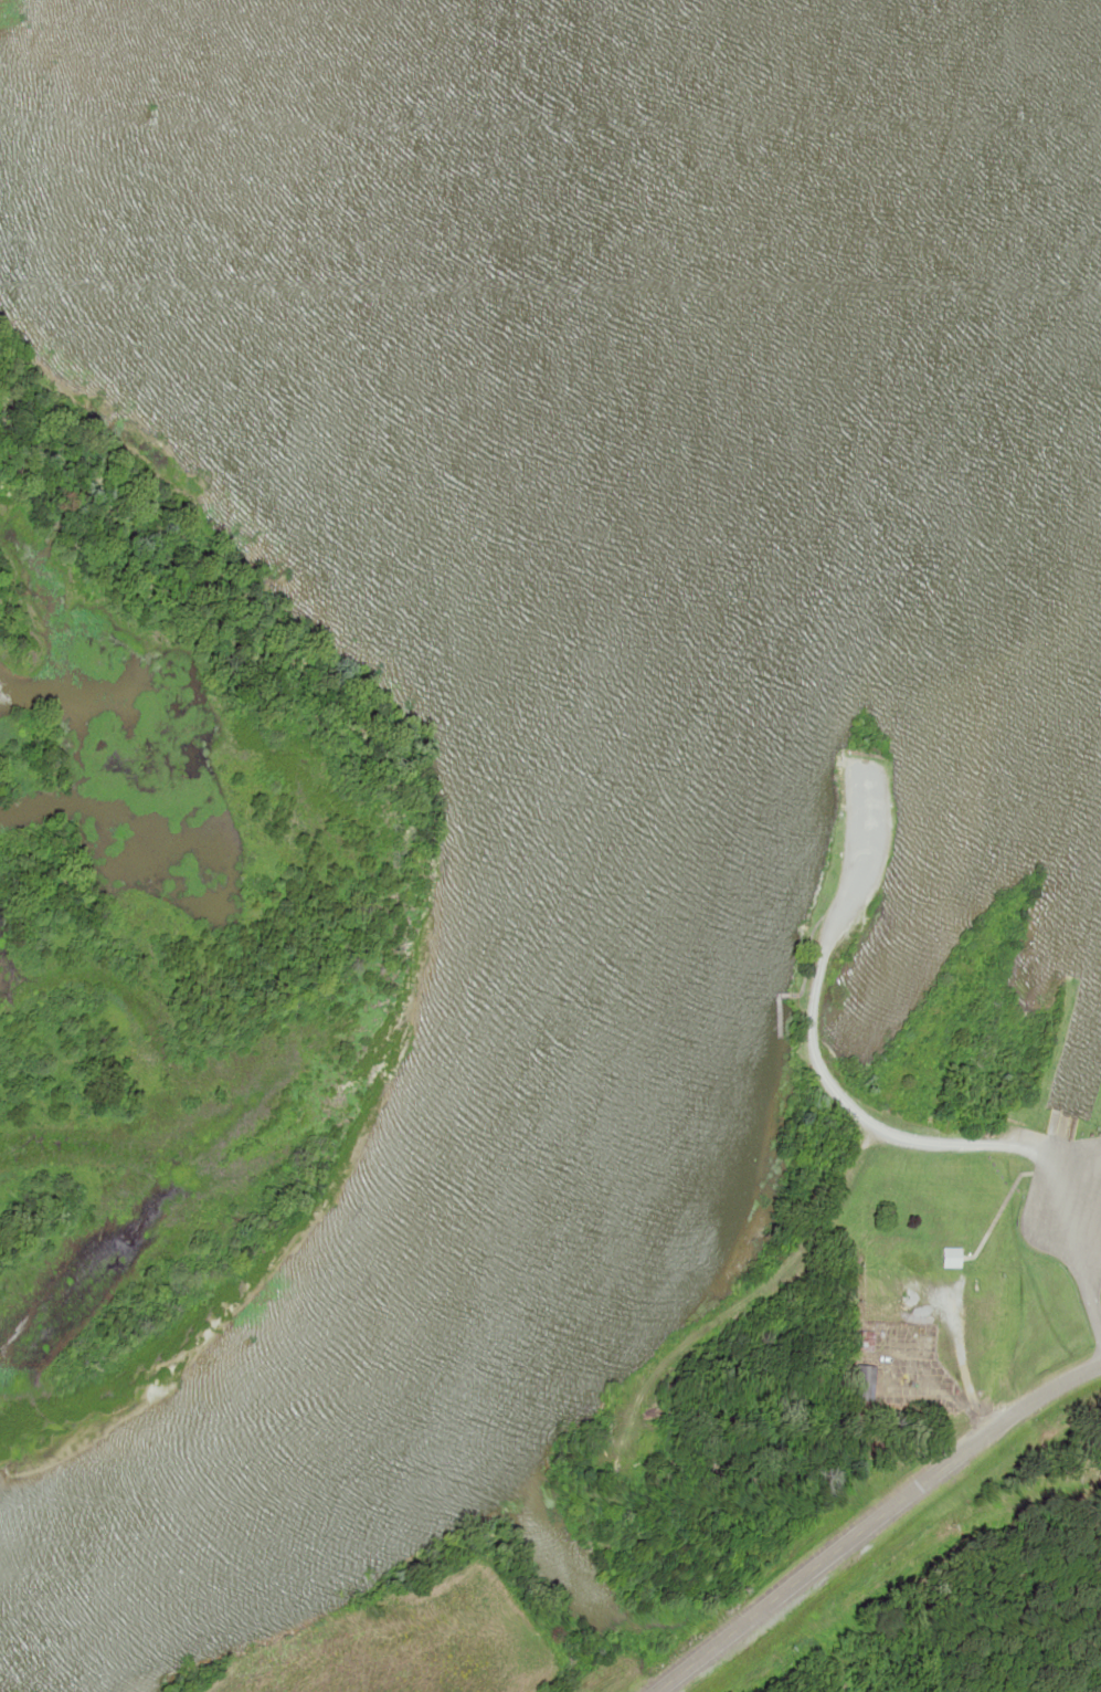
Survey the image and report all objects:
building: (953, 1257)
road: (866, 1517)

